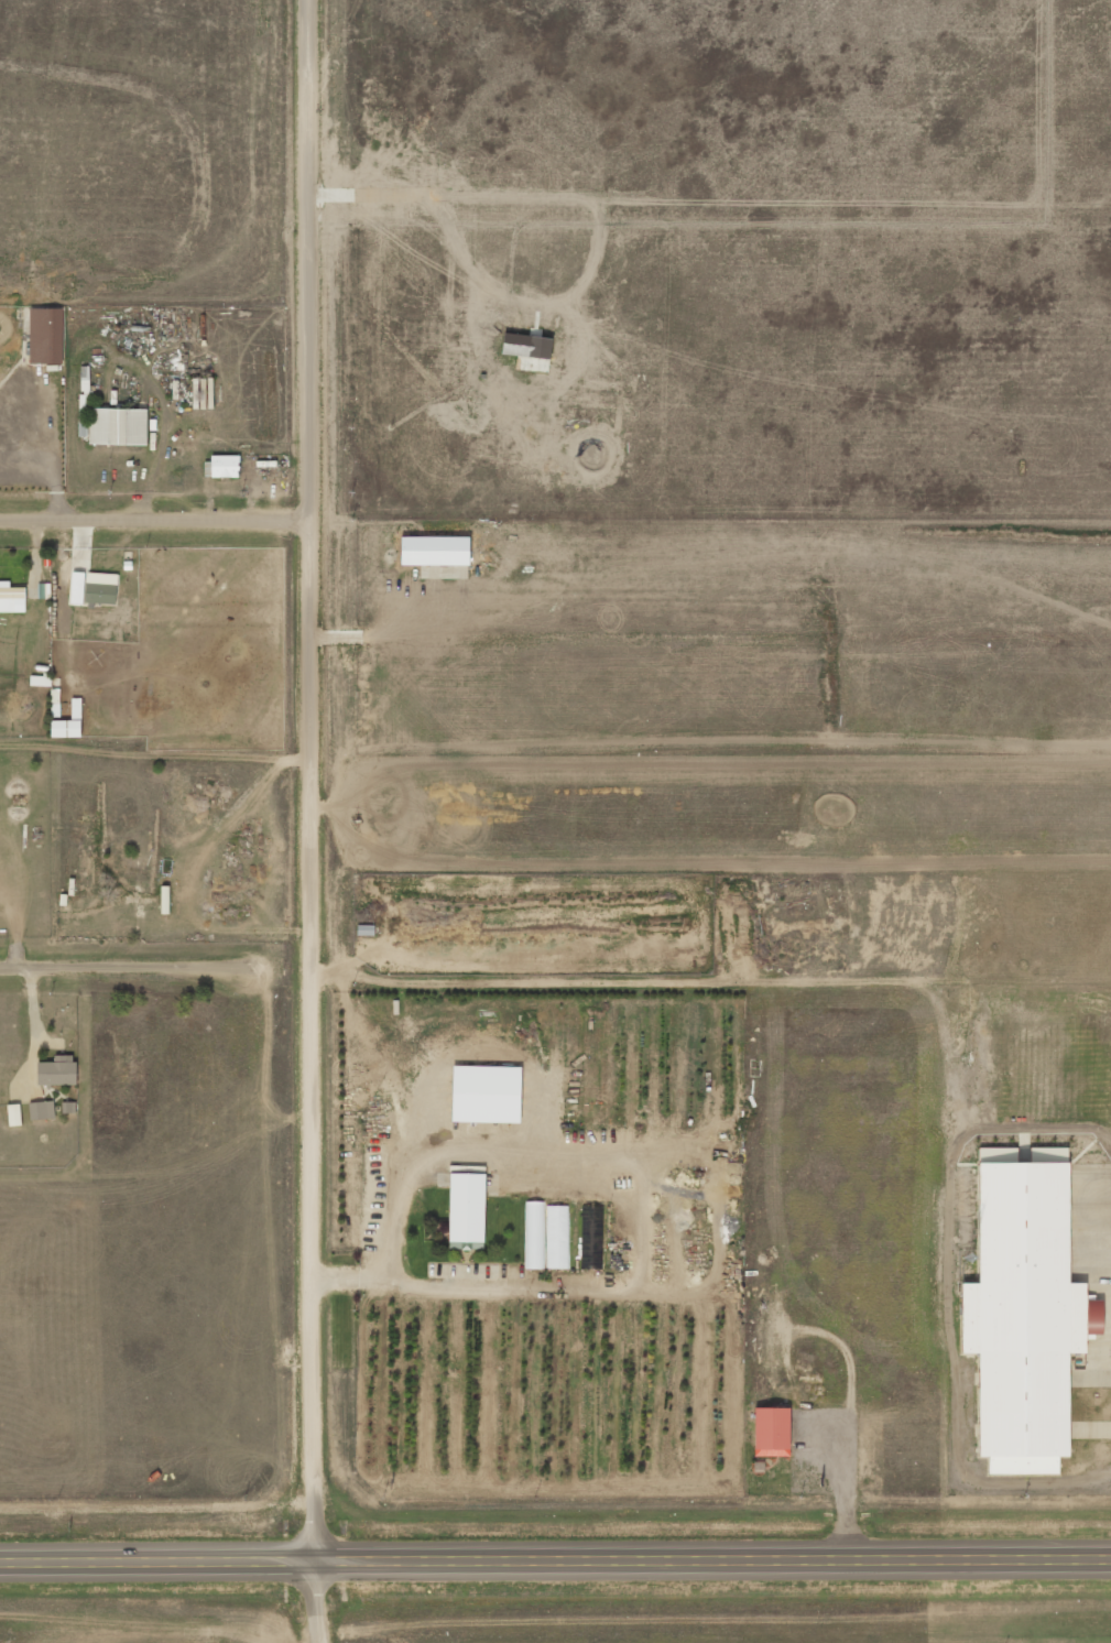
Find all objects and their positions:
building: (46, 337)
building: (203, 394)
building: (84, 402)
building: (118, 427)
building: (226, 467)
road: (156, 520)
building: (77, 592)
building: (100, 594)
building: (68, 725)
road: (309, 821)
road: (119, 966)
building: (57, 1071)
building: (42, 1111)
building: (14, 1116)
road: (718, 1210)
building: (466, 1212)
building: (535, 1236)
building: (558, 1238)
building: (591, 1238)
building: (1025, 1319)
building: (772, 1432)
road: (555, 1563)

